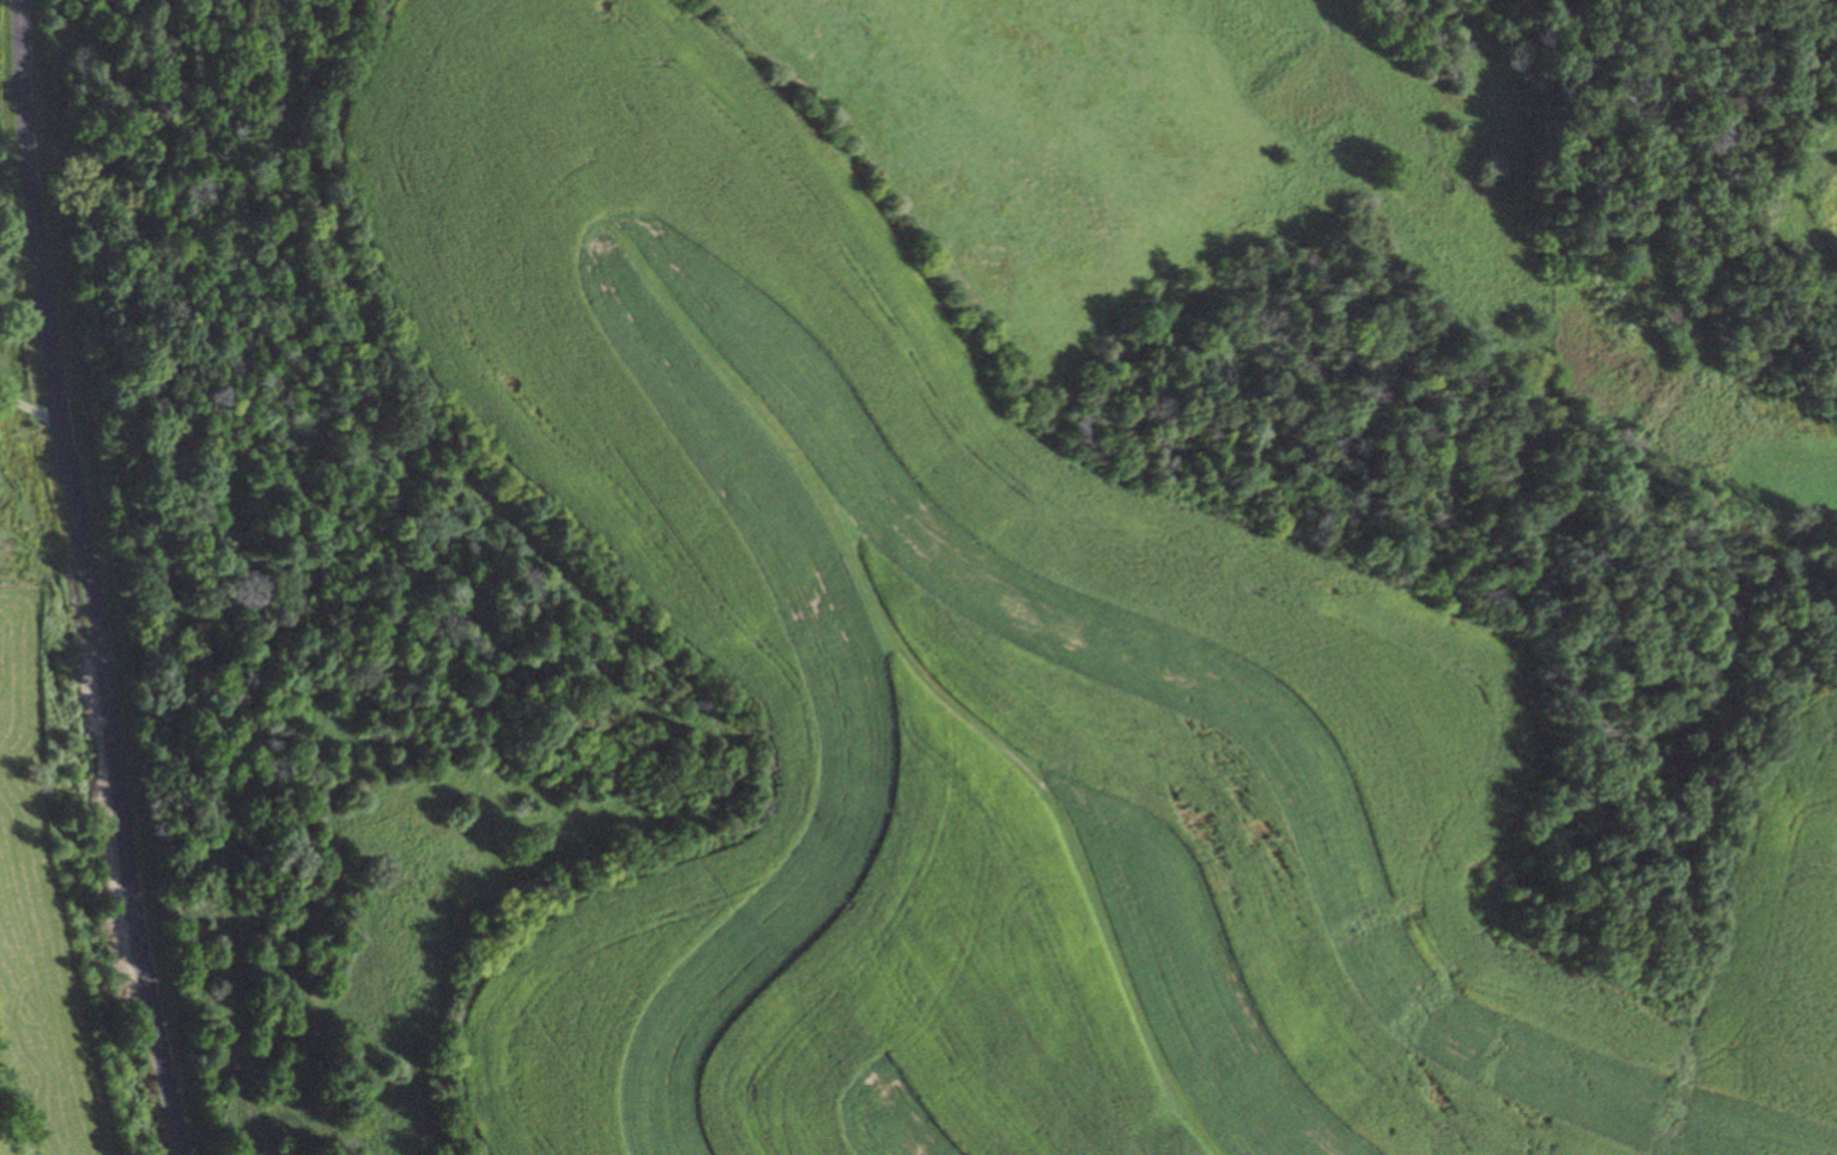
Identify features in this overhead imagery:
road: (31, 409)
road: (89, 578)

